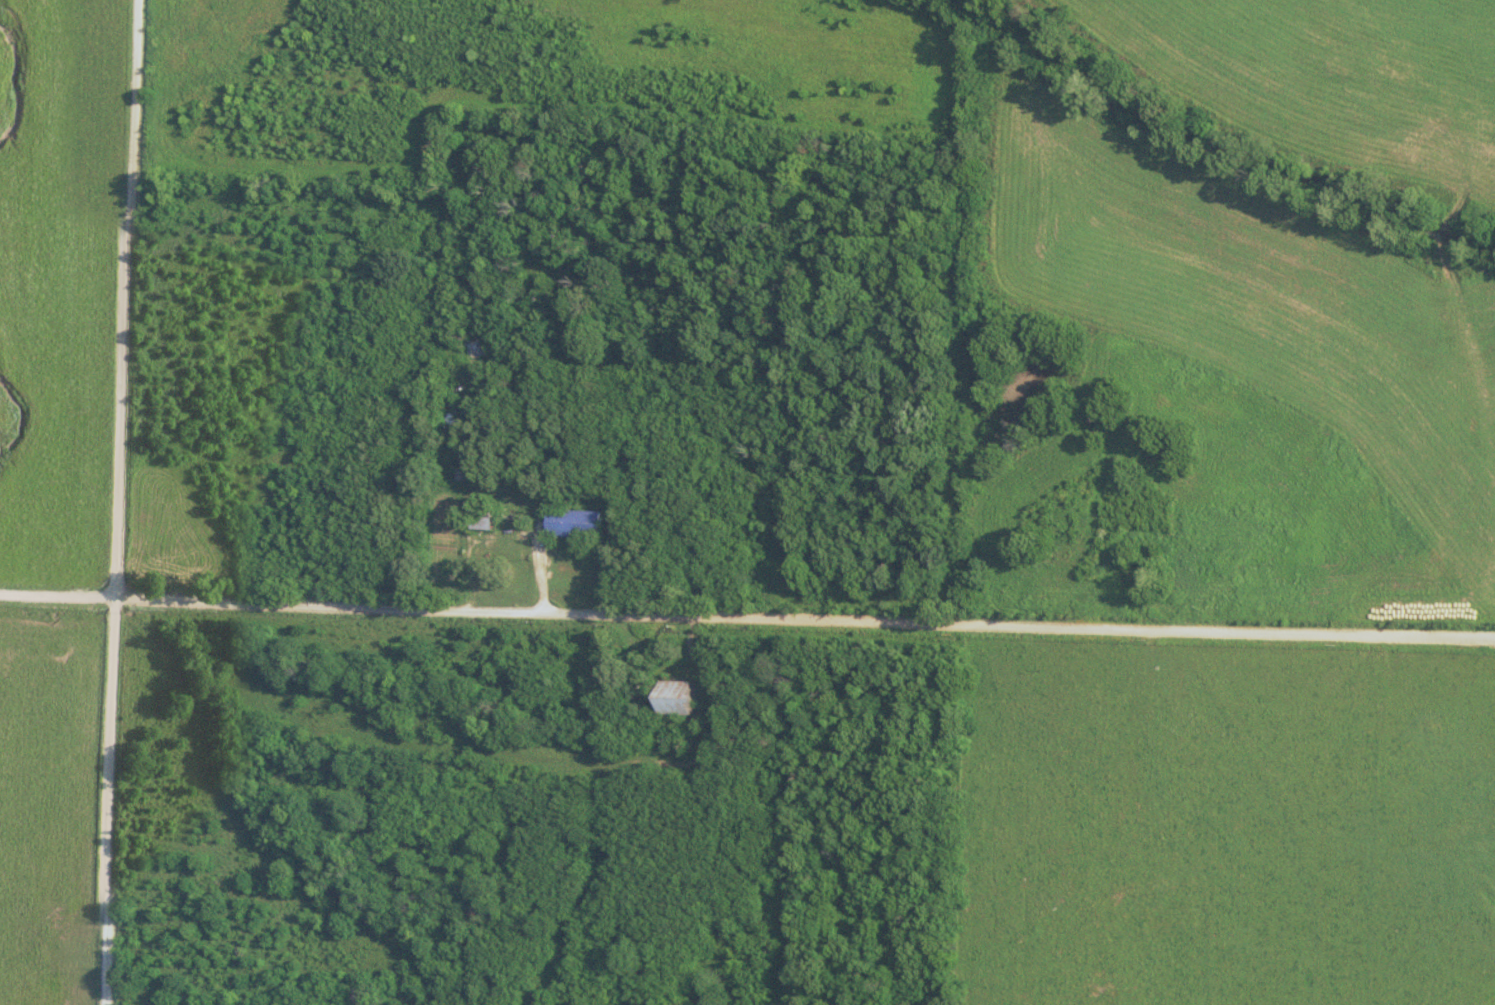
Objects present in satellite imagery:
building: (462, 474)
road: (118, 502)
building: (481, 519)
building: (574, 523)
road: (509, 538)
road: (747, 618)
building: (674, 698)

